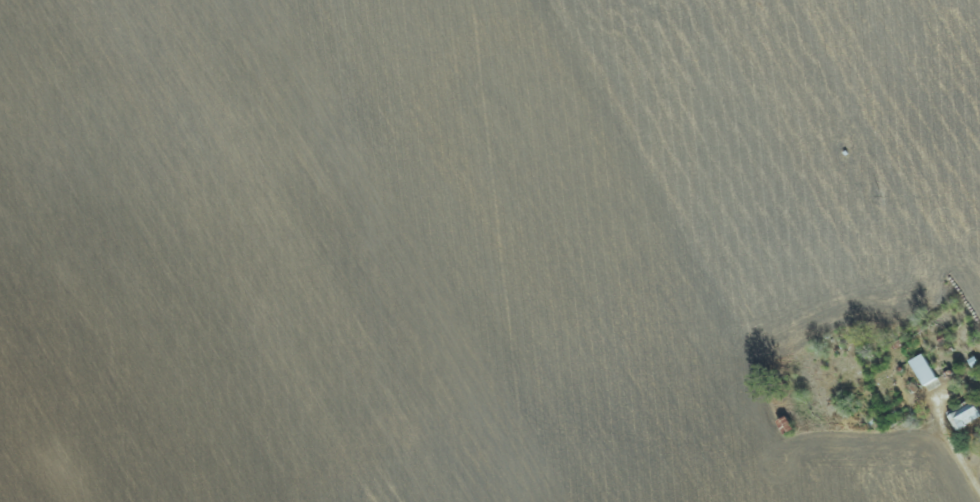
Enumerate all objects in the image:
road: (959, 453)

